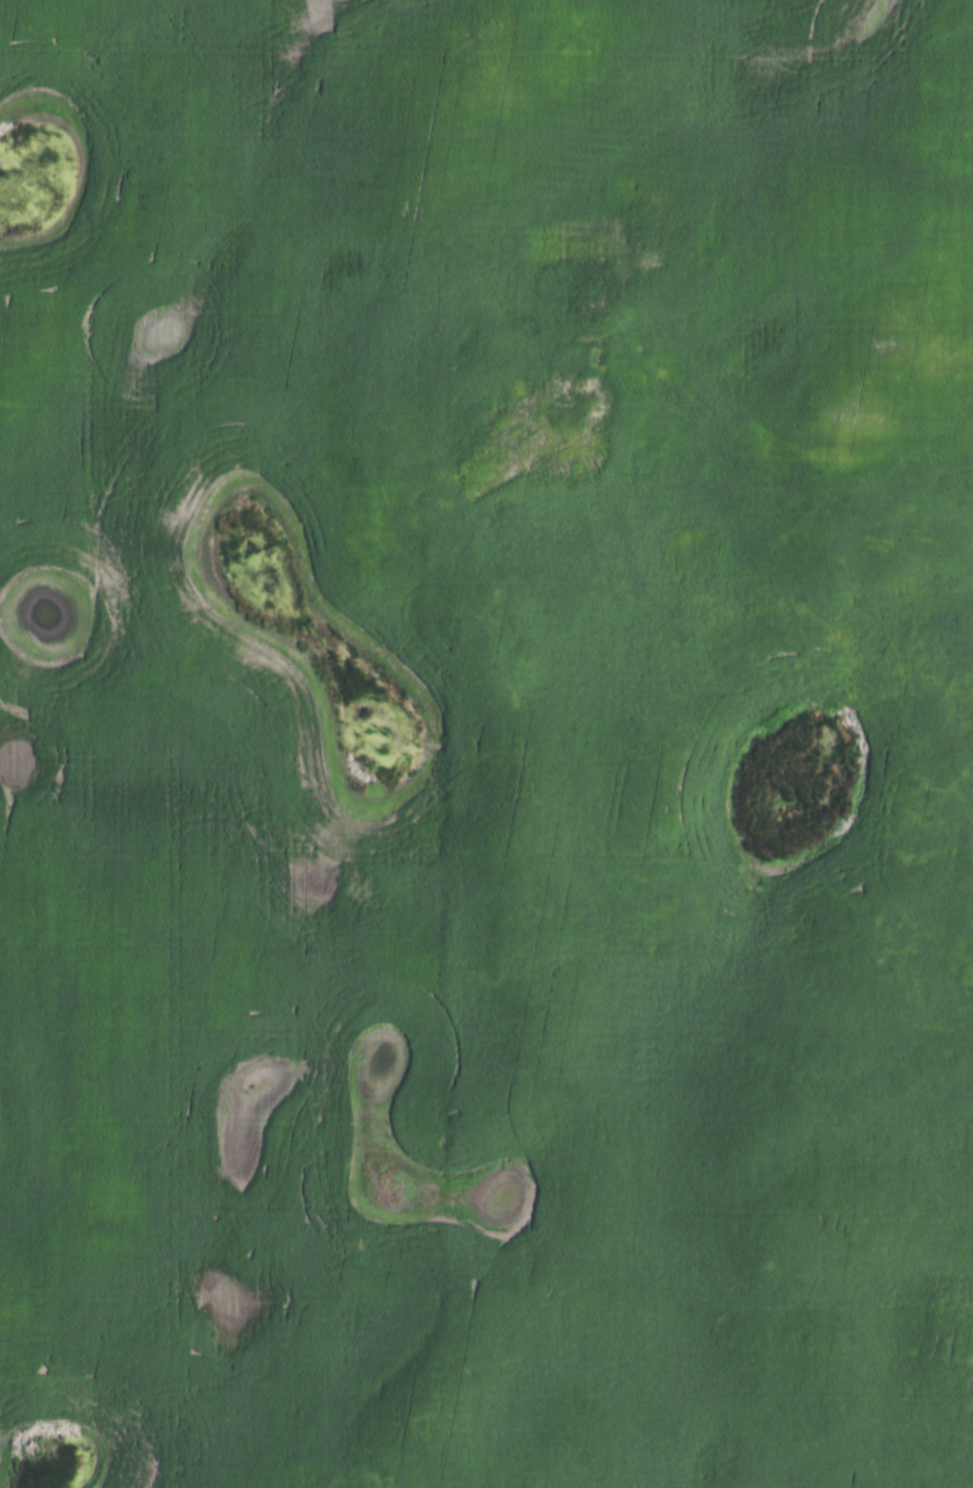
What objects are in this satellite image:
road: (753, 432)

